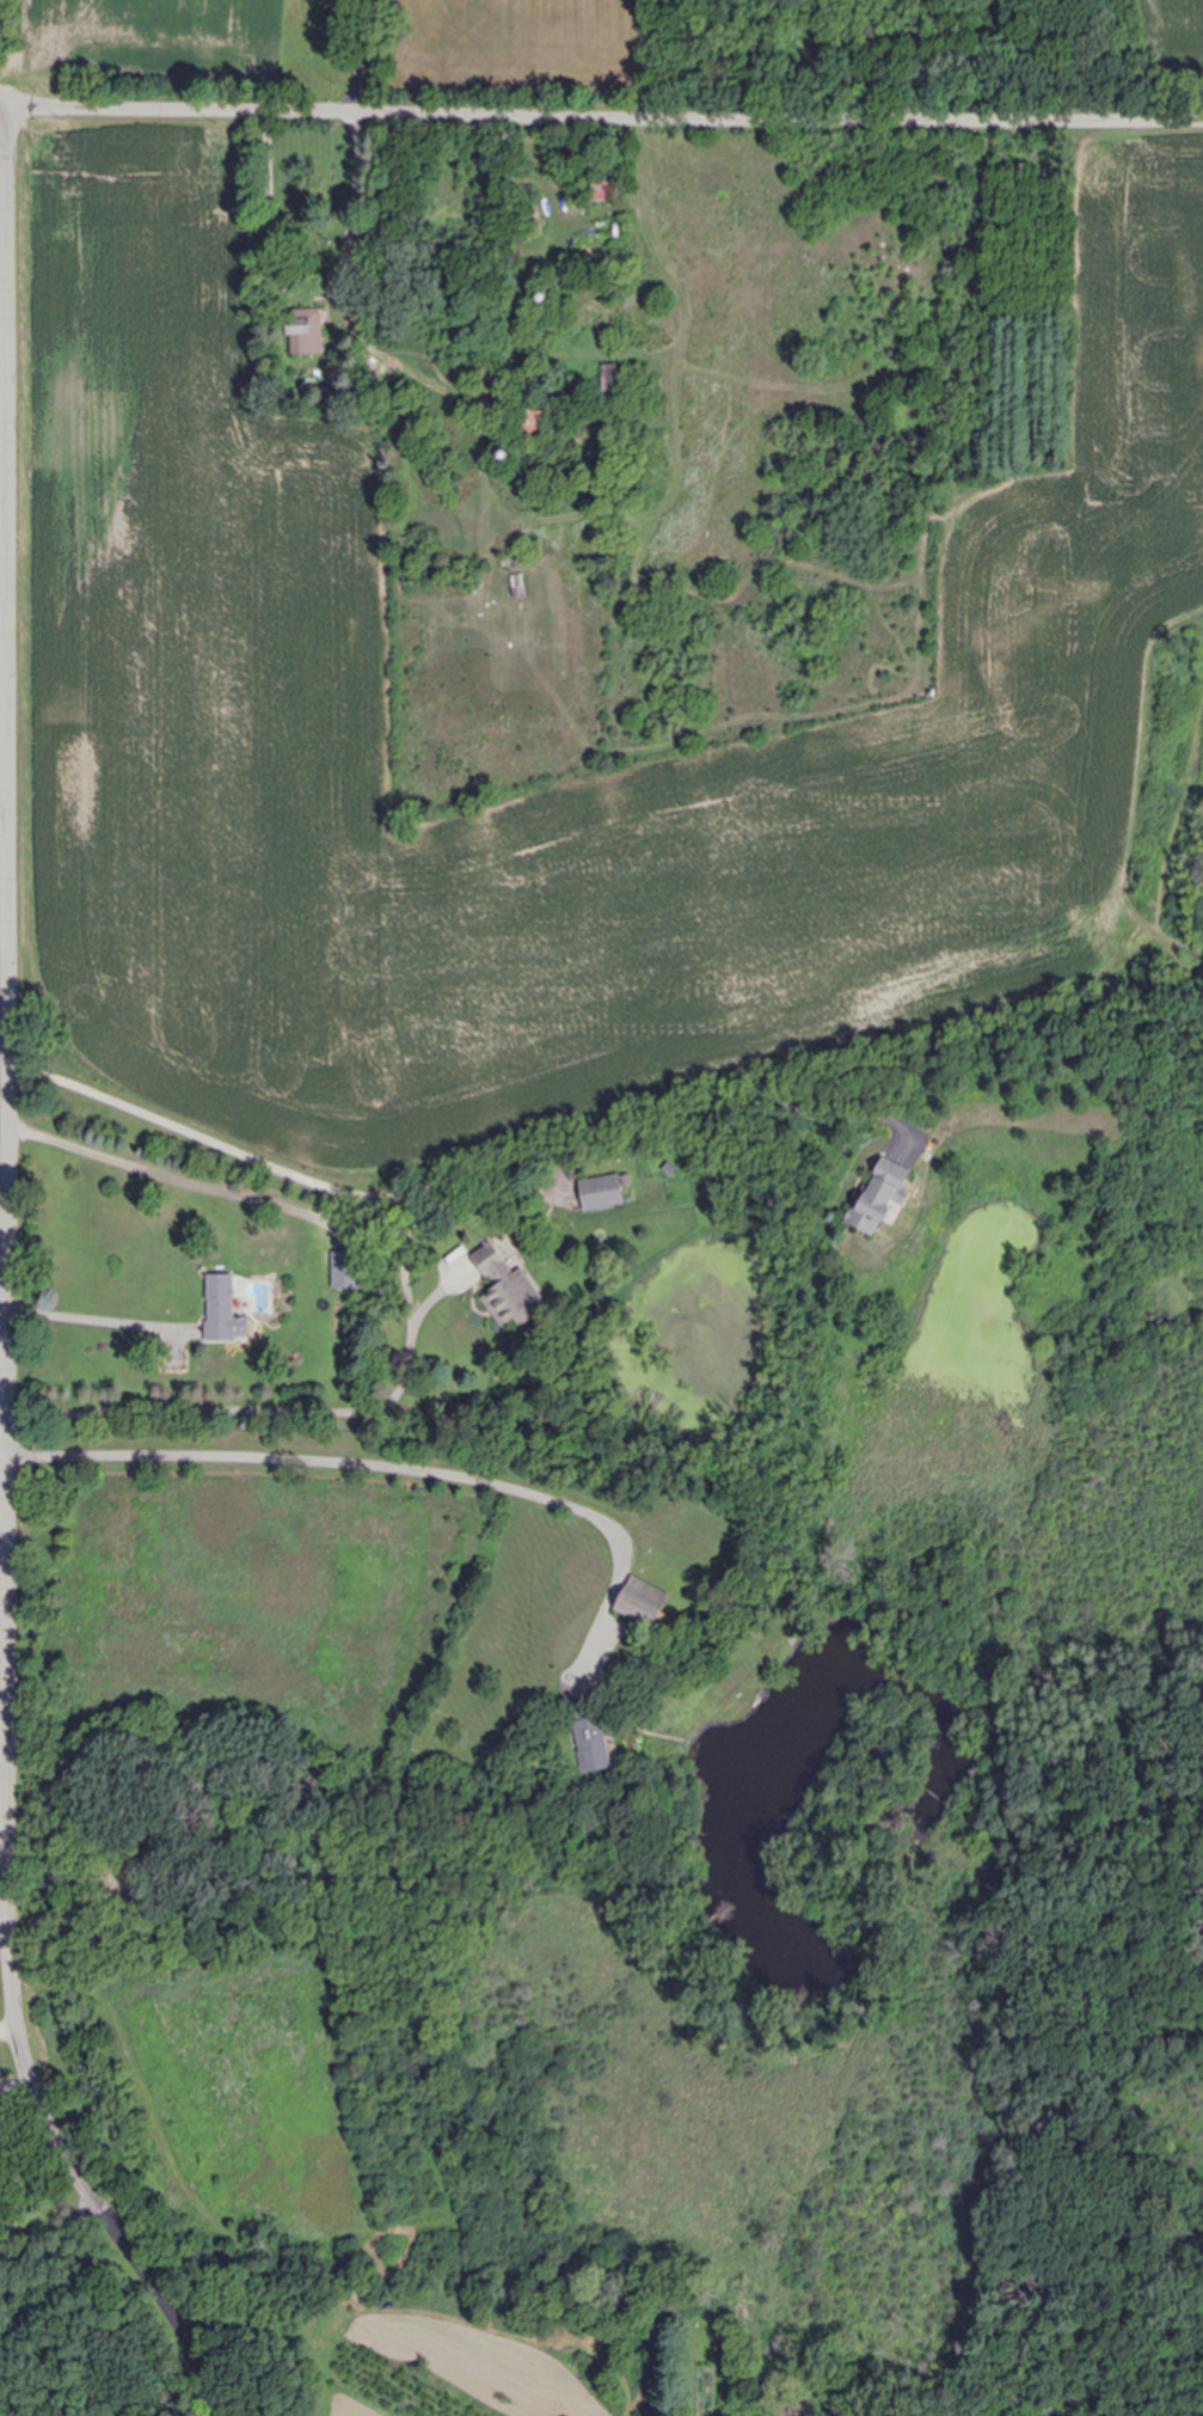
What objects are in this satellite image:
road: (361, 57)
road: (4, 102)
road: (604, 123)
building: (606, 191)
road: (356, 209)
building: (308, 328)
building: (486, 366)
building: (535, 421)
road: (274, 1166)
building: (606, 1192)
building: (886, 1194)
road: (351, 1222)
building: (348, 1270)
road: (10, 1284)
building: (511, 1290)
building: (226, 1310)
road: (99, 1319)
road: (274, 1413)
road: (400, 1468)
building: (646, 1602)
building: (596, 1744)
road: (4, 1907)
road: (8, 2022)
road: (48, 2227)

